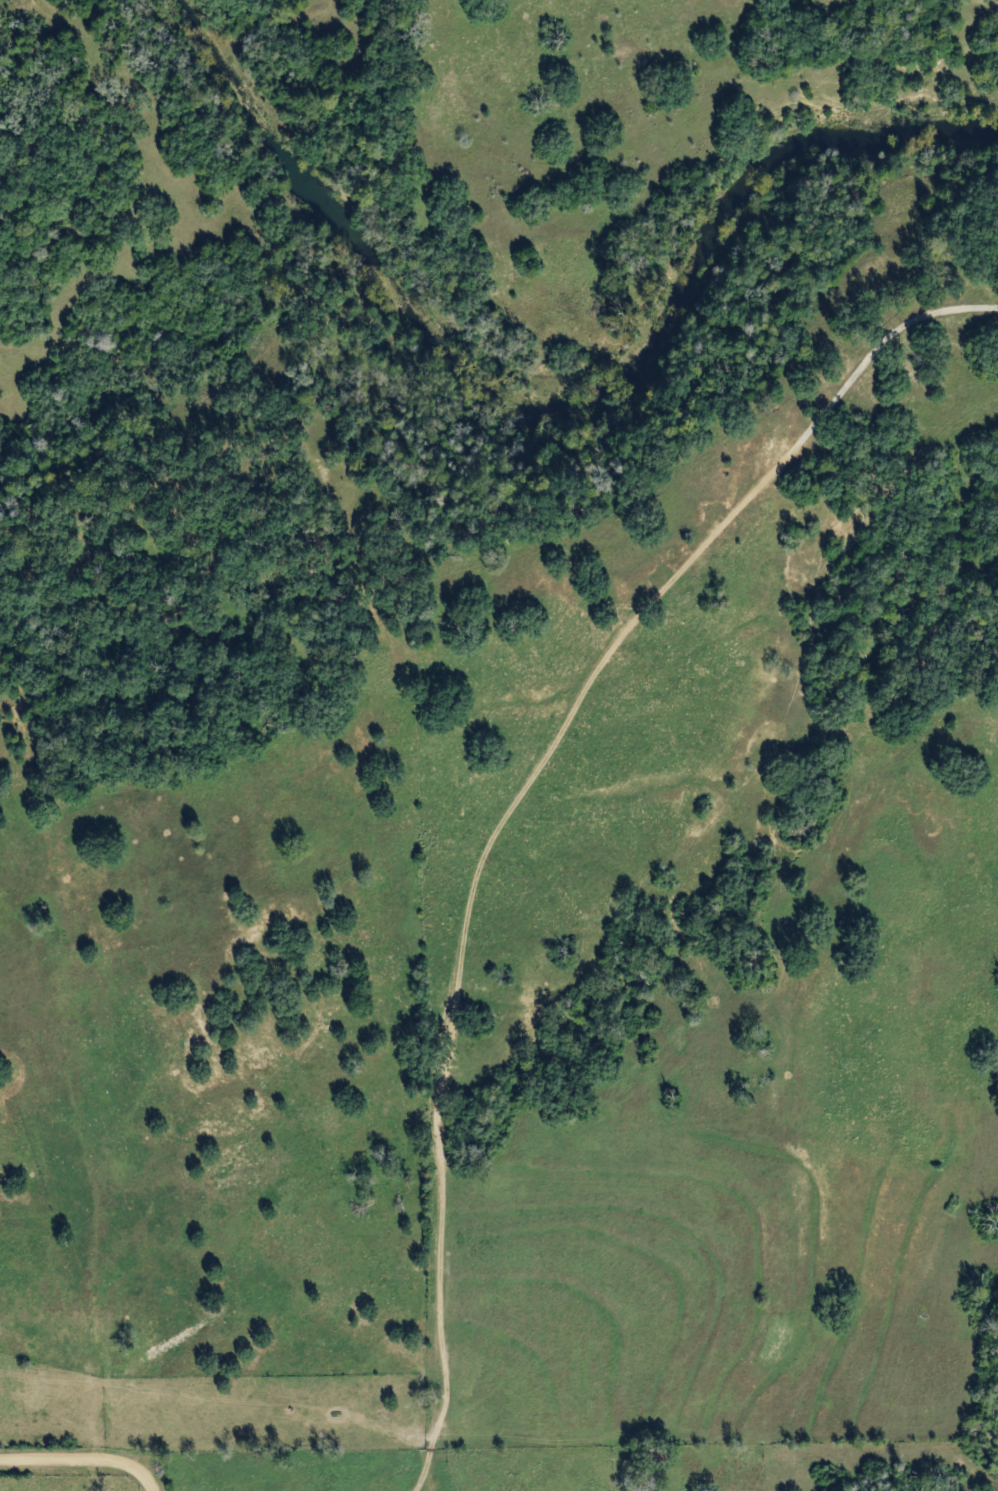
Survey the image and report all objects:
road: (529, 800)
road: (87, 1460)

